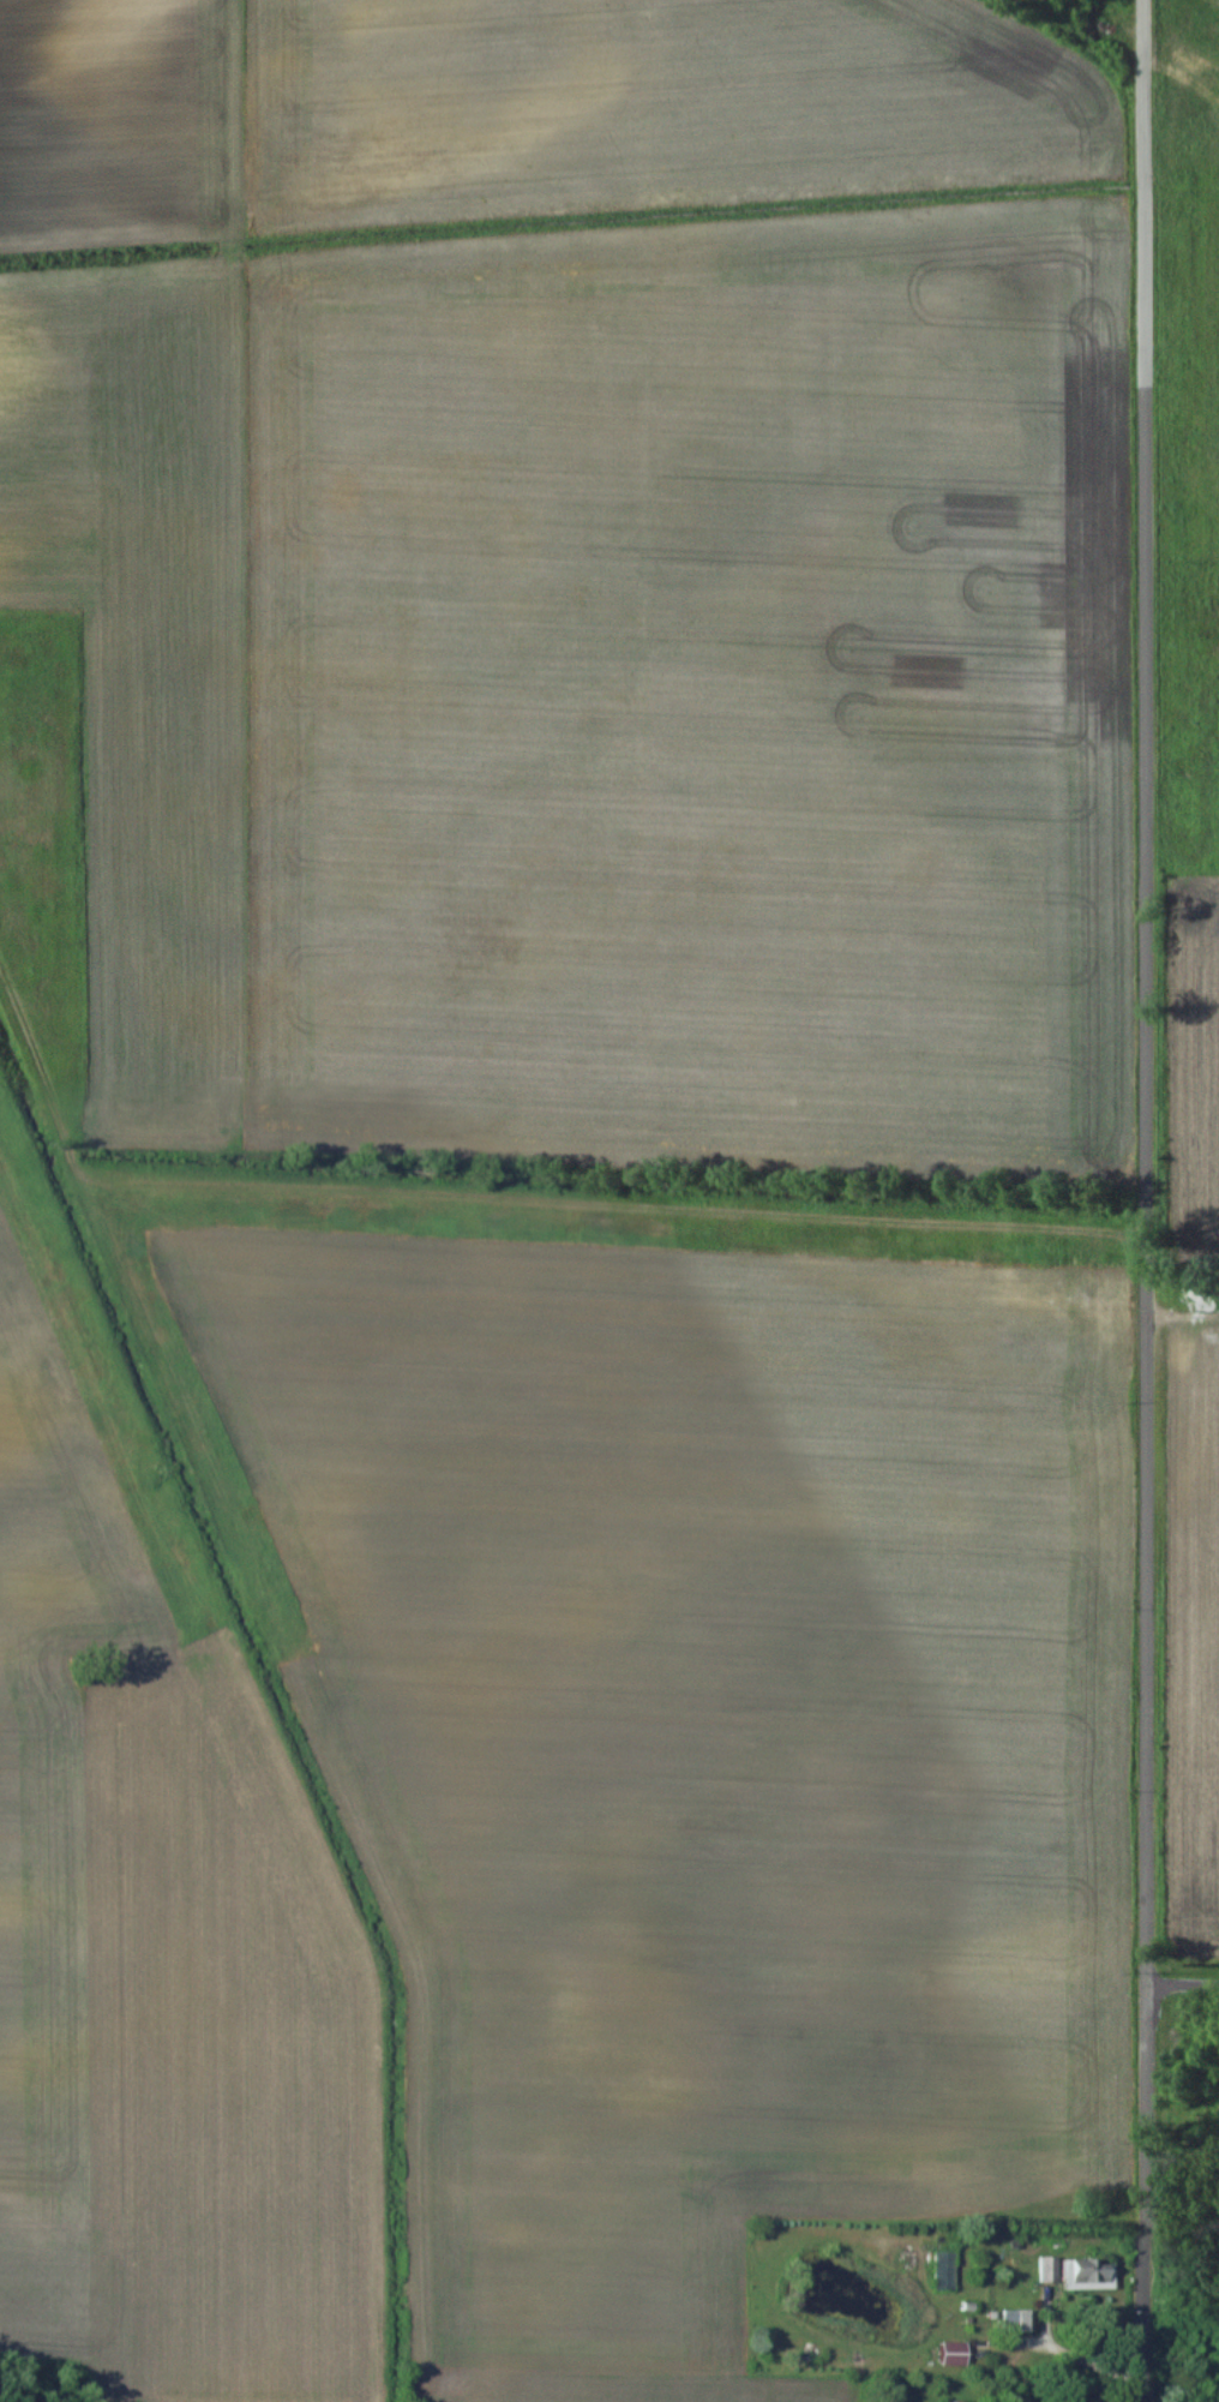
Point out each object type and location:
road: (1146, 1200)
road: (1184, 1985)
building: (1047, 2269)
building: (944, 2270)
building: (1088, 2274)
building: (1019, 2318)
building: (949, 2352)
building: (1002, 2401)

